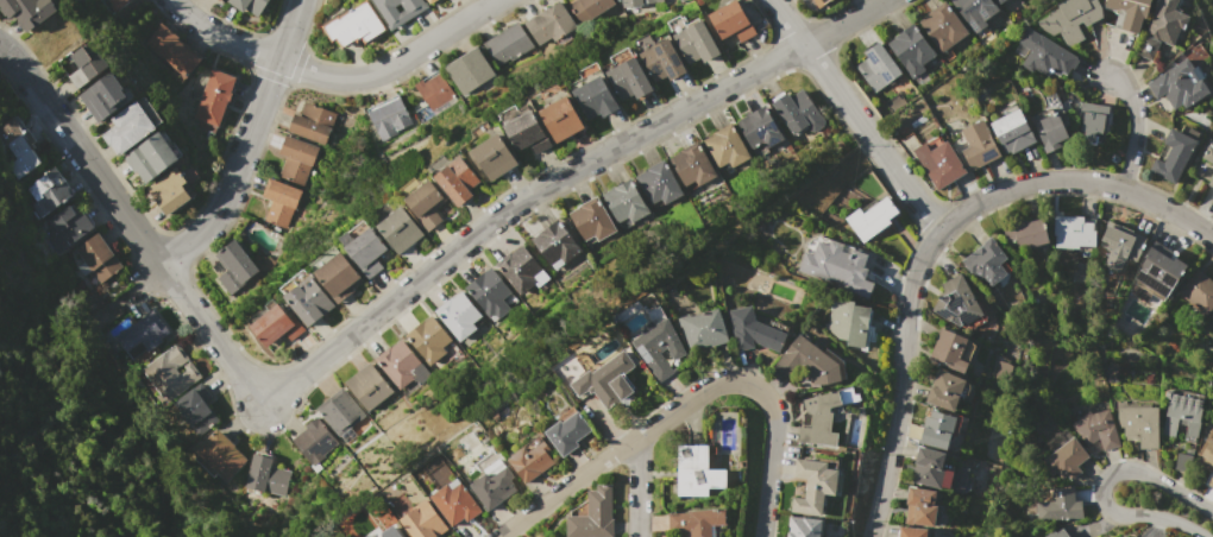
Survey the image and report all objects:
building: (220, 0)
building: (430, 1)
building: (998, 1)
building: (636, 2)
building: (818, 2)
building: (118, 4)
building: (249, 5)
building: (587, 8)
building: (27, 12)
building: (974, 12)
building: (1129, 12)
building: (396, 19)
building: (1070, 19)
building: (1165, 20)
building: (729, 21)
building: (549, 23)
building: (356, 25)
building: (942, 26)
building: (691, 39)
building: (508, 44)
building: (1148, 48)
building: (171, 50)
building: (910, 50)
building: (1045, 56)
building: (659, 58)
building: (87, 64)
building: (876, 68)
building: (470, 70)
building: (628, 75)
road: (334, 77)
building: (1177, 86)
building: (434, 90)
building: (105, 96)
building: (596, 96)
building: (214, 97)
building: (796, 112)
road: (855, 115)
building: (388, 116)
building: (560, 119)
building: (312, 122)
building: (1092, 124)
building: (133, 125)
road: (1135, 128)
building: (1050, 131)
building: (527, 132)
building: (762, 132)
building: (1012, 132)
building: (978, 145)
building: (18, 149)
building: (727, 149)
building: (1208, 154)
building: (153, 156)
building: (1173, 156)
building: (495, 157)
building: (295, 160)
building: (937, 162)
building: (693, 169)
building: (457, 181)
building: (1211, 181)
road: (1075, 182)
road: (227, 185)
building: (658, 187)
building: (170, 191)
building: (46, 192)
building: (422, 201)
building: (278, 202)
building: (626, 204)
building: (871, 219)
building: (591, 222)
building: (67, 228)
building: (398, 229)
building: (1073, 233)
building: (1026, 234)
building: (555, 245)
building: (1115, 248)
building: (363, 249)
building: (96, 258)
building: (985, 264)
building: (835, 265)
building: (234, 266)
building: (521, 270)
building: (1159, 272)
building: (335, 273)
building: (488, 291)
building: (1198, 291)
building: (306, 297)
building: (956, 302)
road: (379, 311)
building: (458, 315)
building: (1212, 316)
building: (849, 323)
building: (272, 324)
building: (703, 329)
building: (752, 330)
building: (142, 335)
building: (427, 340)
building: (658, 347)
building: (949, 350)
building: (810, 362)
building: (401, 365)
building: (170, 373)
building: (606, 381)
road: (901, 383)
building: (367, 386)
building: (944, 390)
road: (762, 393)
building: (194, 410)
building: (340, 413)
building: (823, 416)
building: (1182, 416)
building: (1139, 425)
building: (1096, 429)
building: (937, 430)
building: (567, 431)
building: (314, 442)
building: (1207, 453)
building: (218, 455)
building: (1066, 456)
building: (530, 459)
building: (1181, 463)
building: (931, 467)
building: (695, 472)
building: (265, 476)
building: (492, 480)
building: (960, 481)
building: (1211, 482)
road: (1102, 484)
building: (812, 486)
road: (565, 487)
road: (636, 487)
building: (455, 503)
building: (1058, 506)
building: (924, 507)
building: (593, 514)
building: (421, 520)
building: (697, 522)
building: (803, 526)
building: (391, 532)
building: (911, 532)
building: (1057, 533)
building: (1124, 536)

